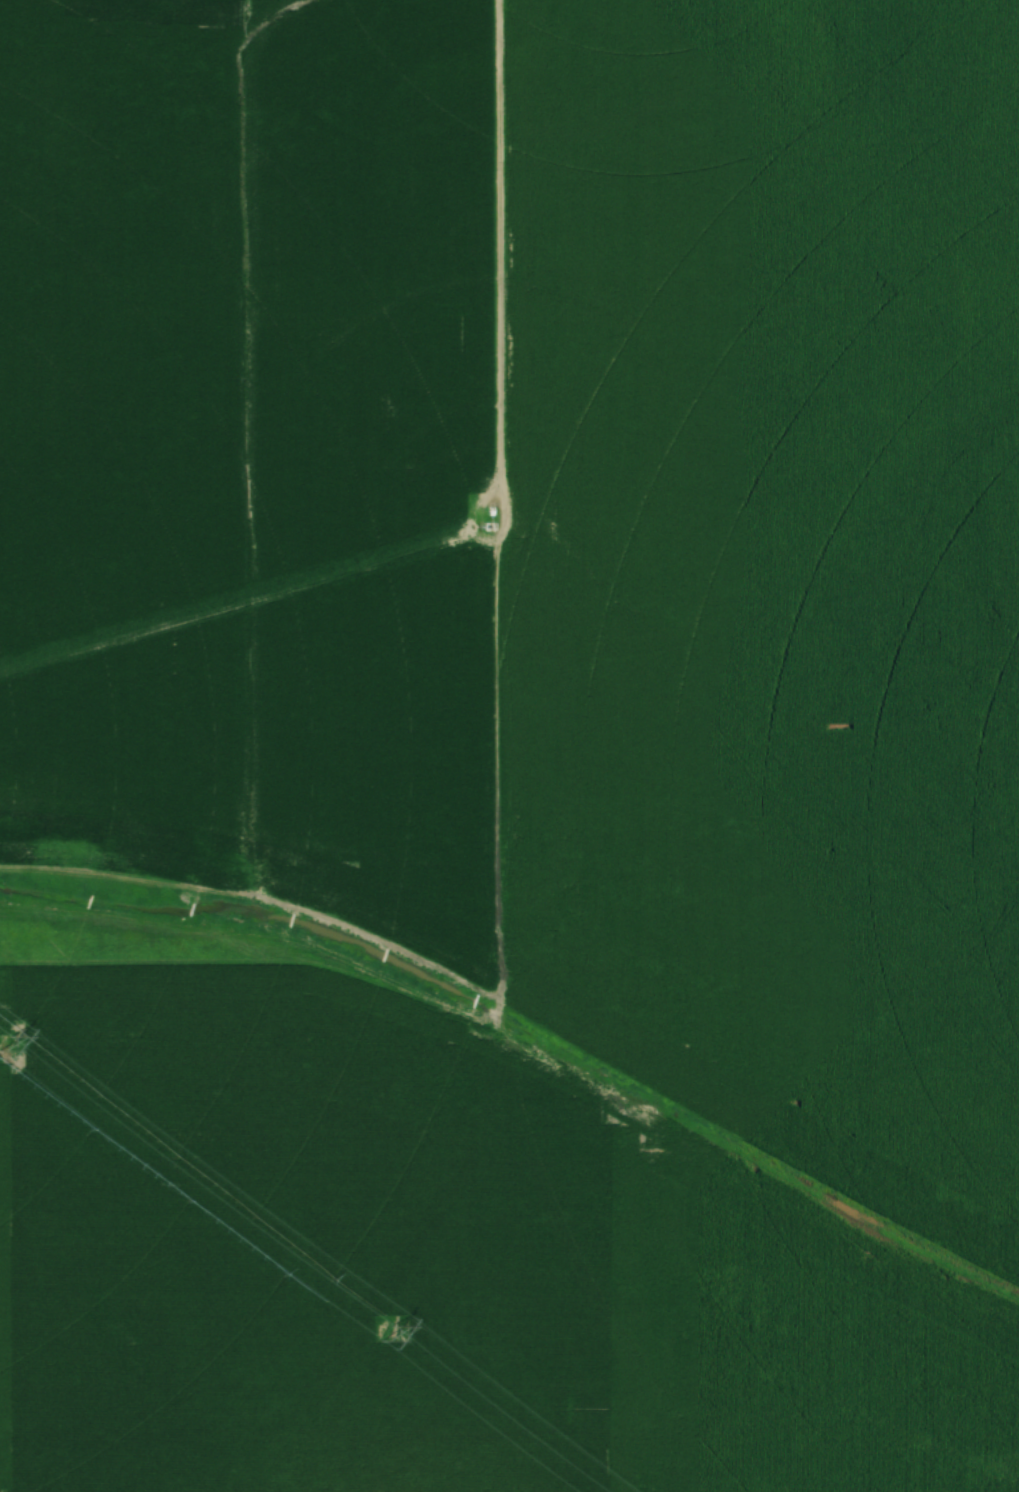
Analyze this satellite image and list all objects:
power tower: (6, 1043)
power tower: (380, 1333)

